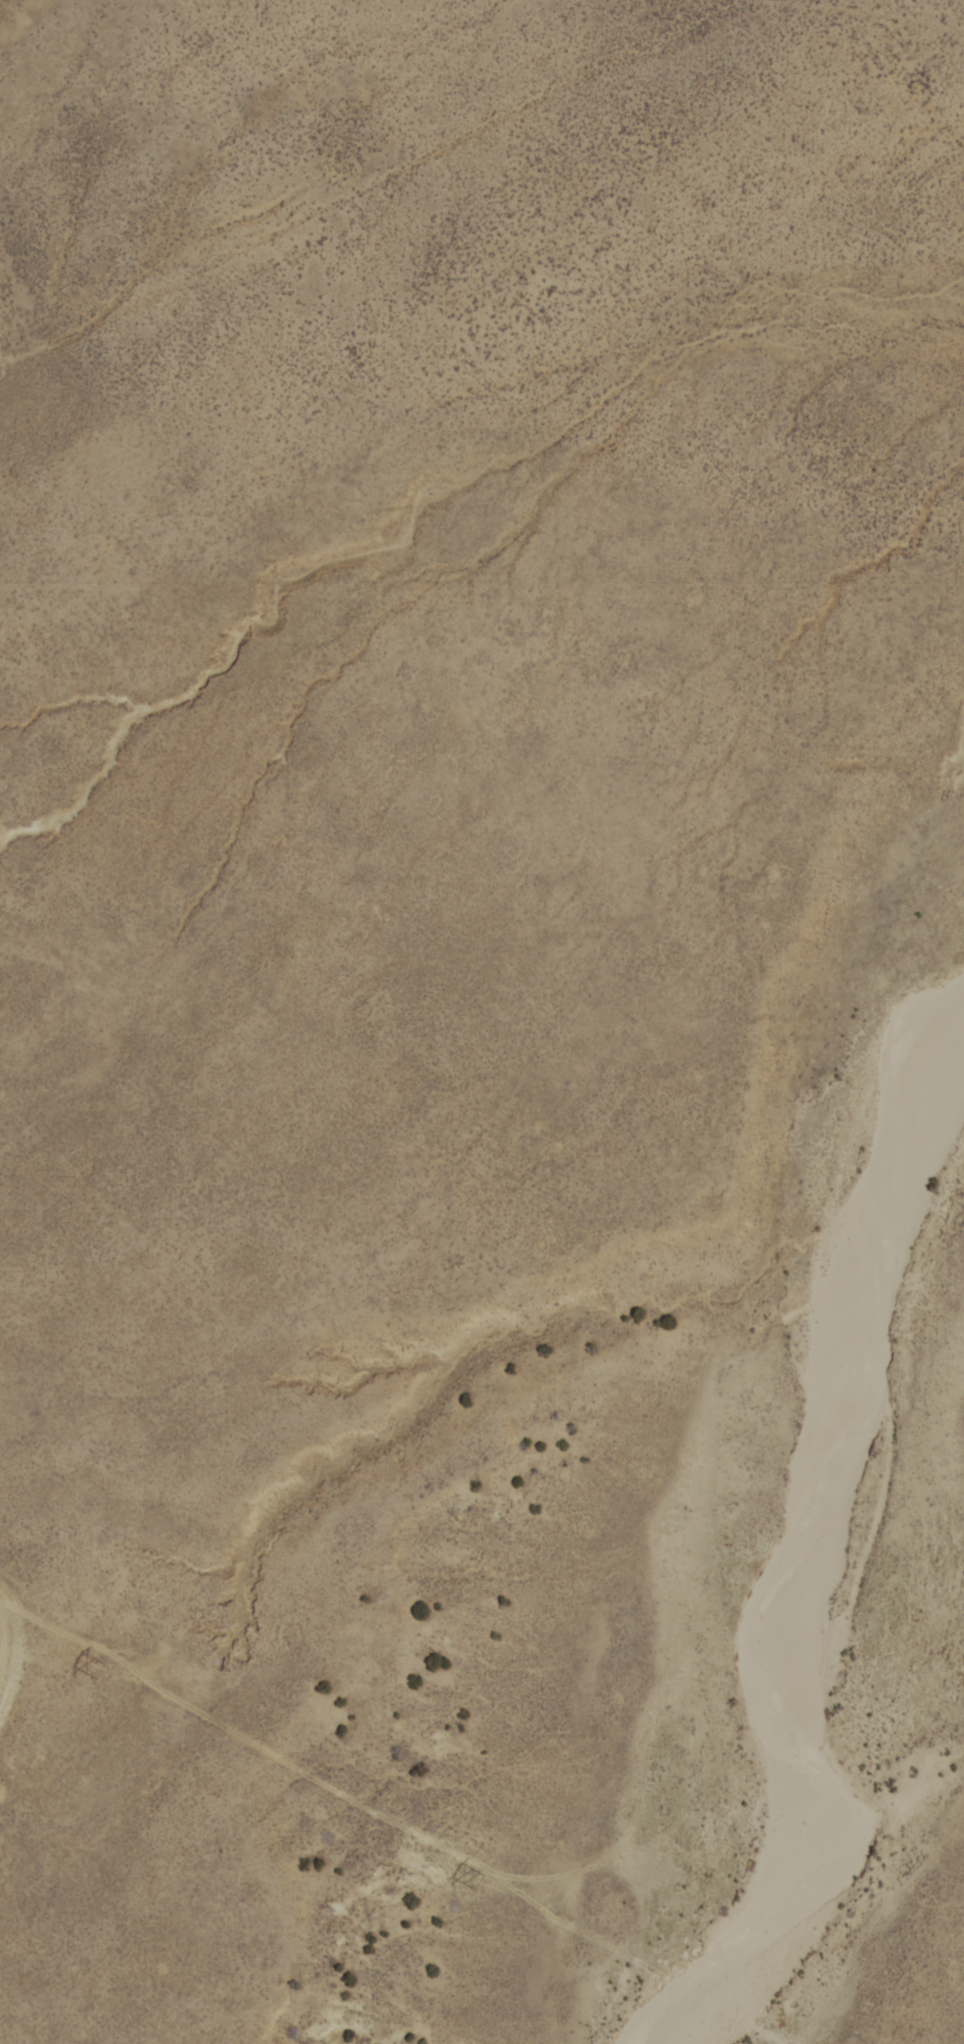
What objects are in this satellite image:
road: (348, 177)
river: (822, 1522)
power tower: (94, 1673)
power tower: (475, 1884)

